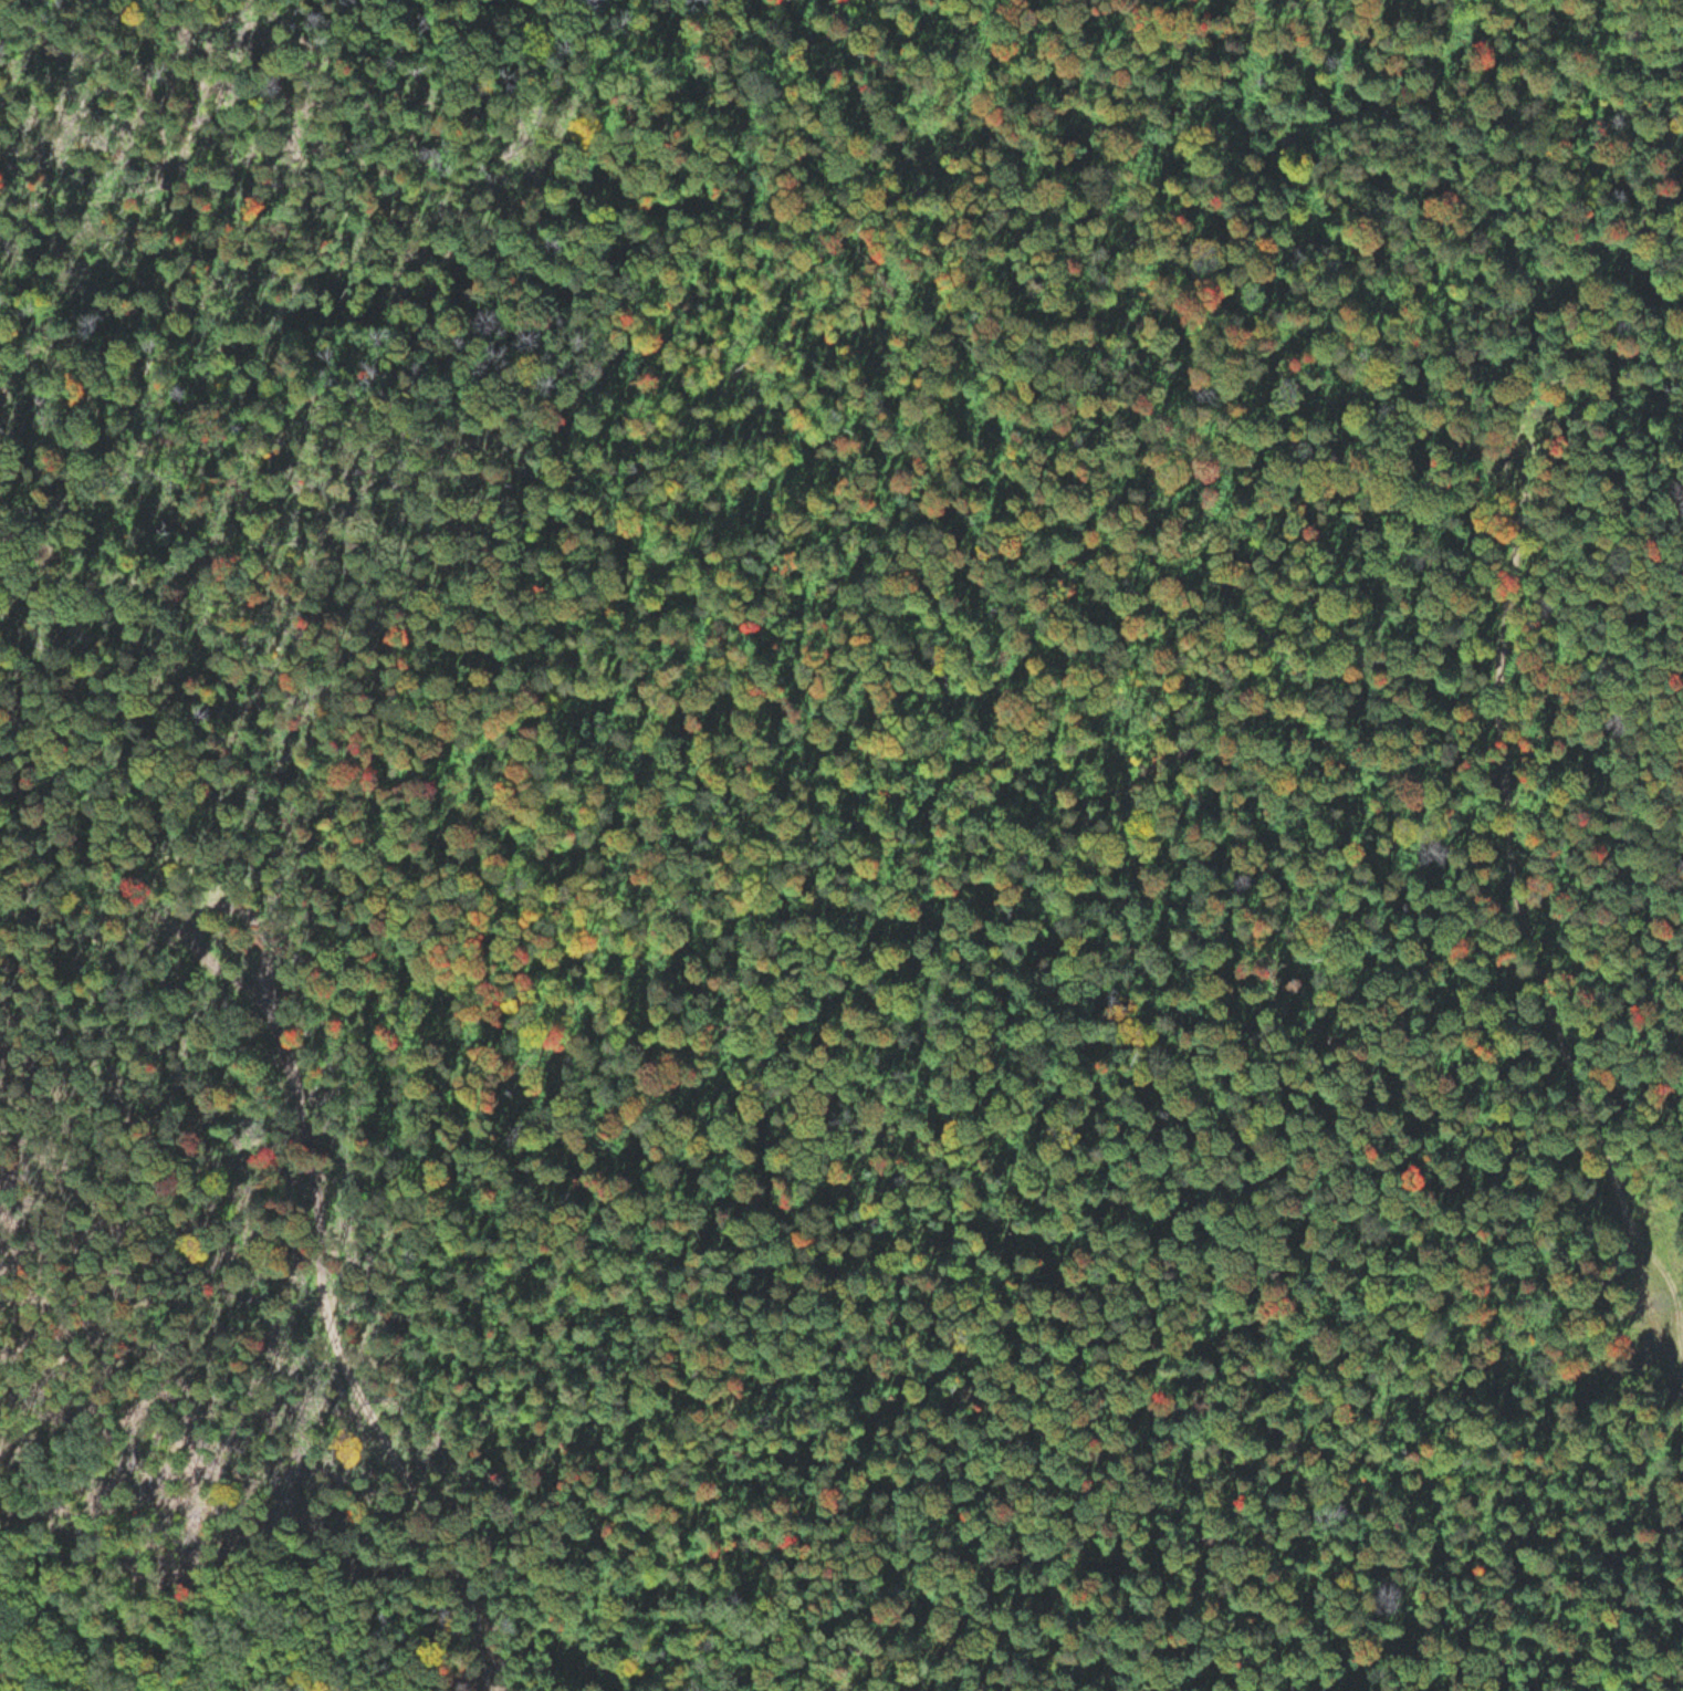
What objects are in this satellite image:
road: (1640, 229)
road: (1539, 823)

